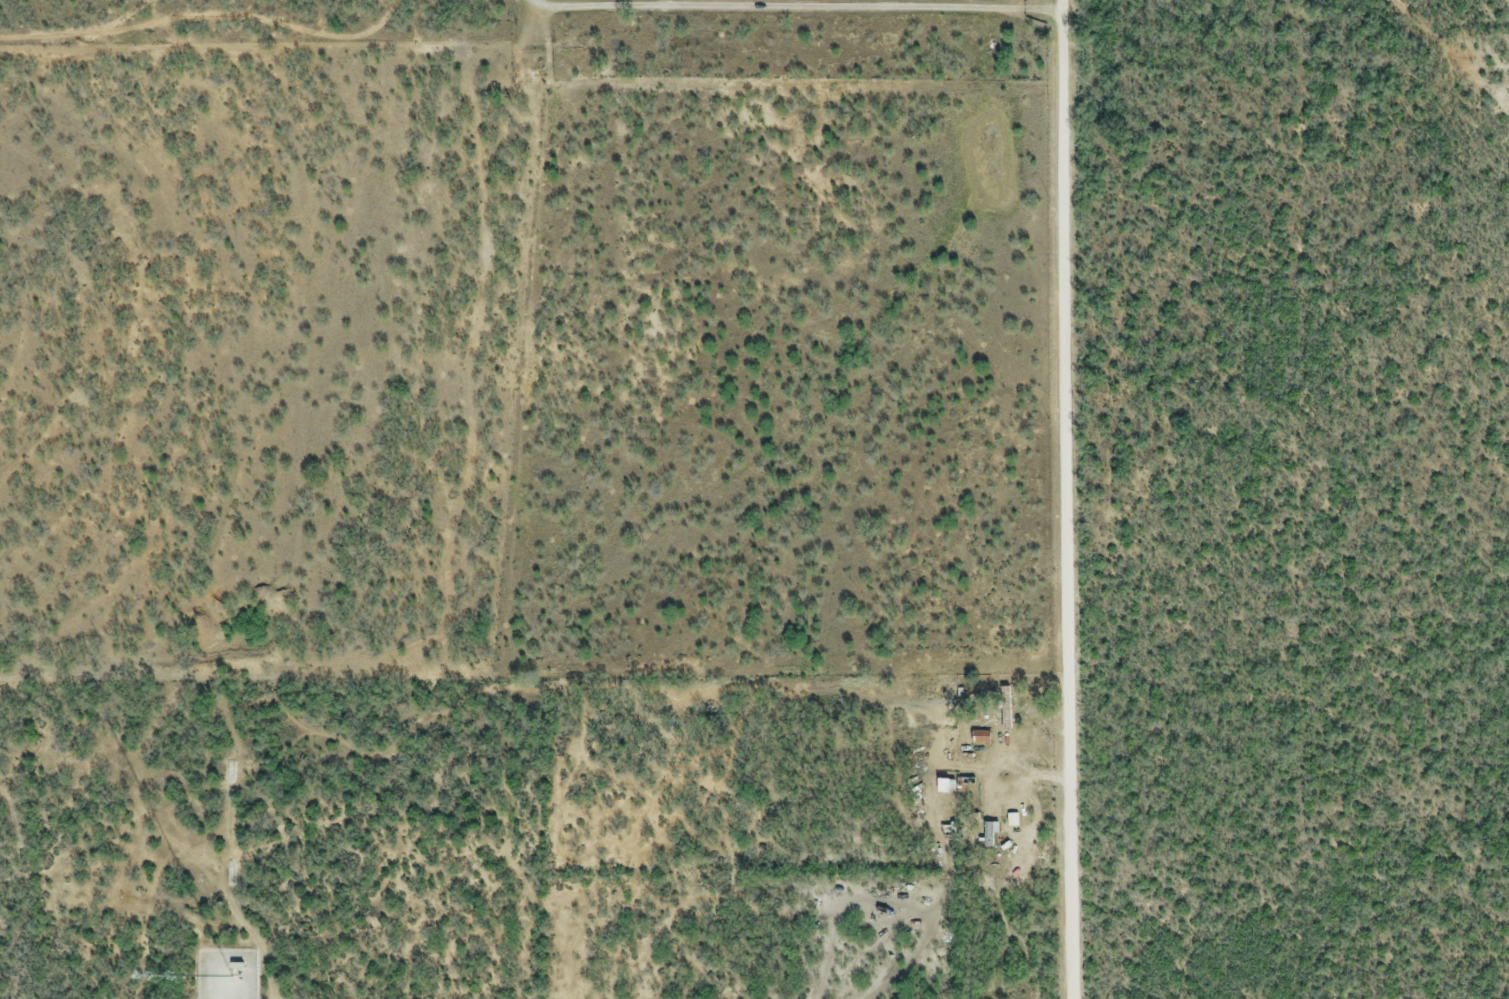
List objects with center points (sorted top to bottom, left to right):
road: (794, 6)
road: (1068, 499)
building: (1002, 711)
building: (978, 739)

